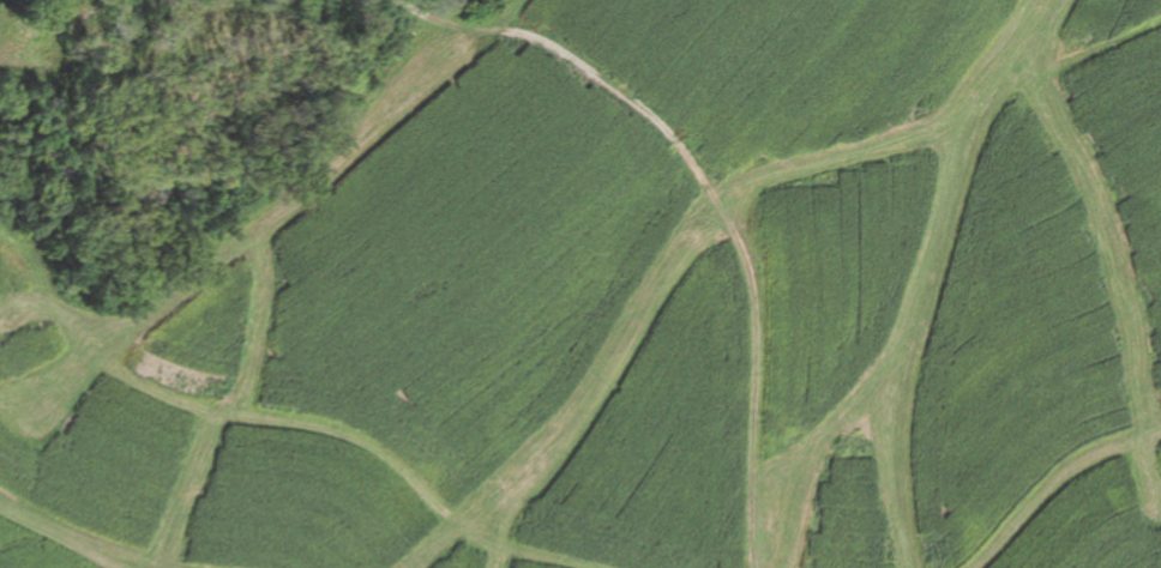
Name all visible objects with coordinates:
road: (663, 194)

